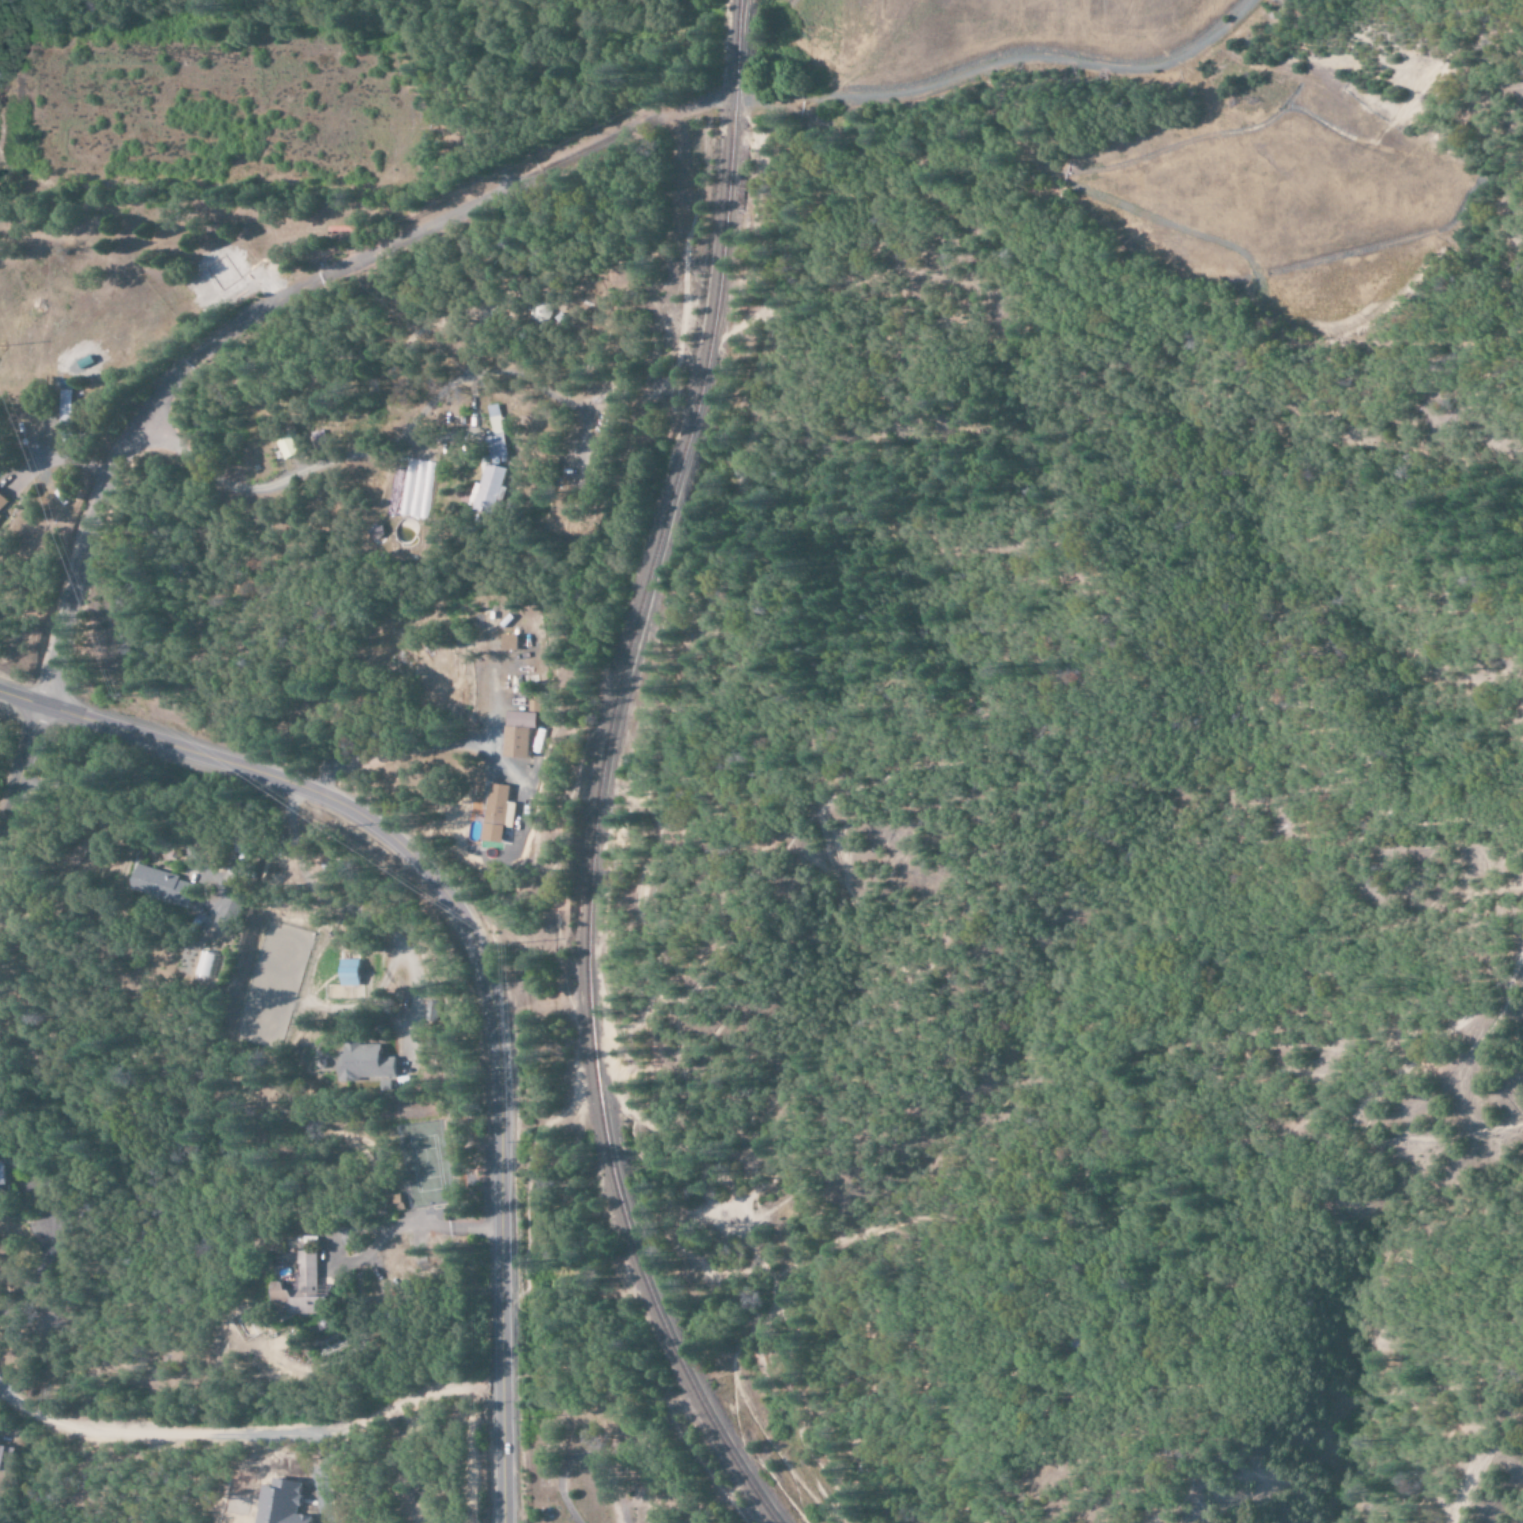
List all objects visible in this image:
road: (523, 178)
building: (91, 366)
building: (67, 409)
building: (497, 435)
building: (292, 445)
building: (490, 489)
building: (4, 502)
building: (513, 642)
building: (535, 703)
building: (521, 733)
road: (20, 767)
railway: (598, 774)
building: (501, 812)
building: (165, 886)
building: (232, 912)
road: (477, 957)
building: (352, 972)
building: (370, 1063)
building: (8, 1175)
building: (310, 1289)
road: (247, 1430)
building: (4, 1458)
building: (284, 1503)

